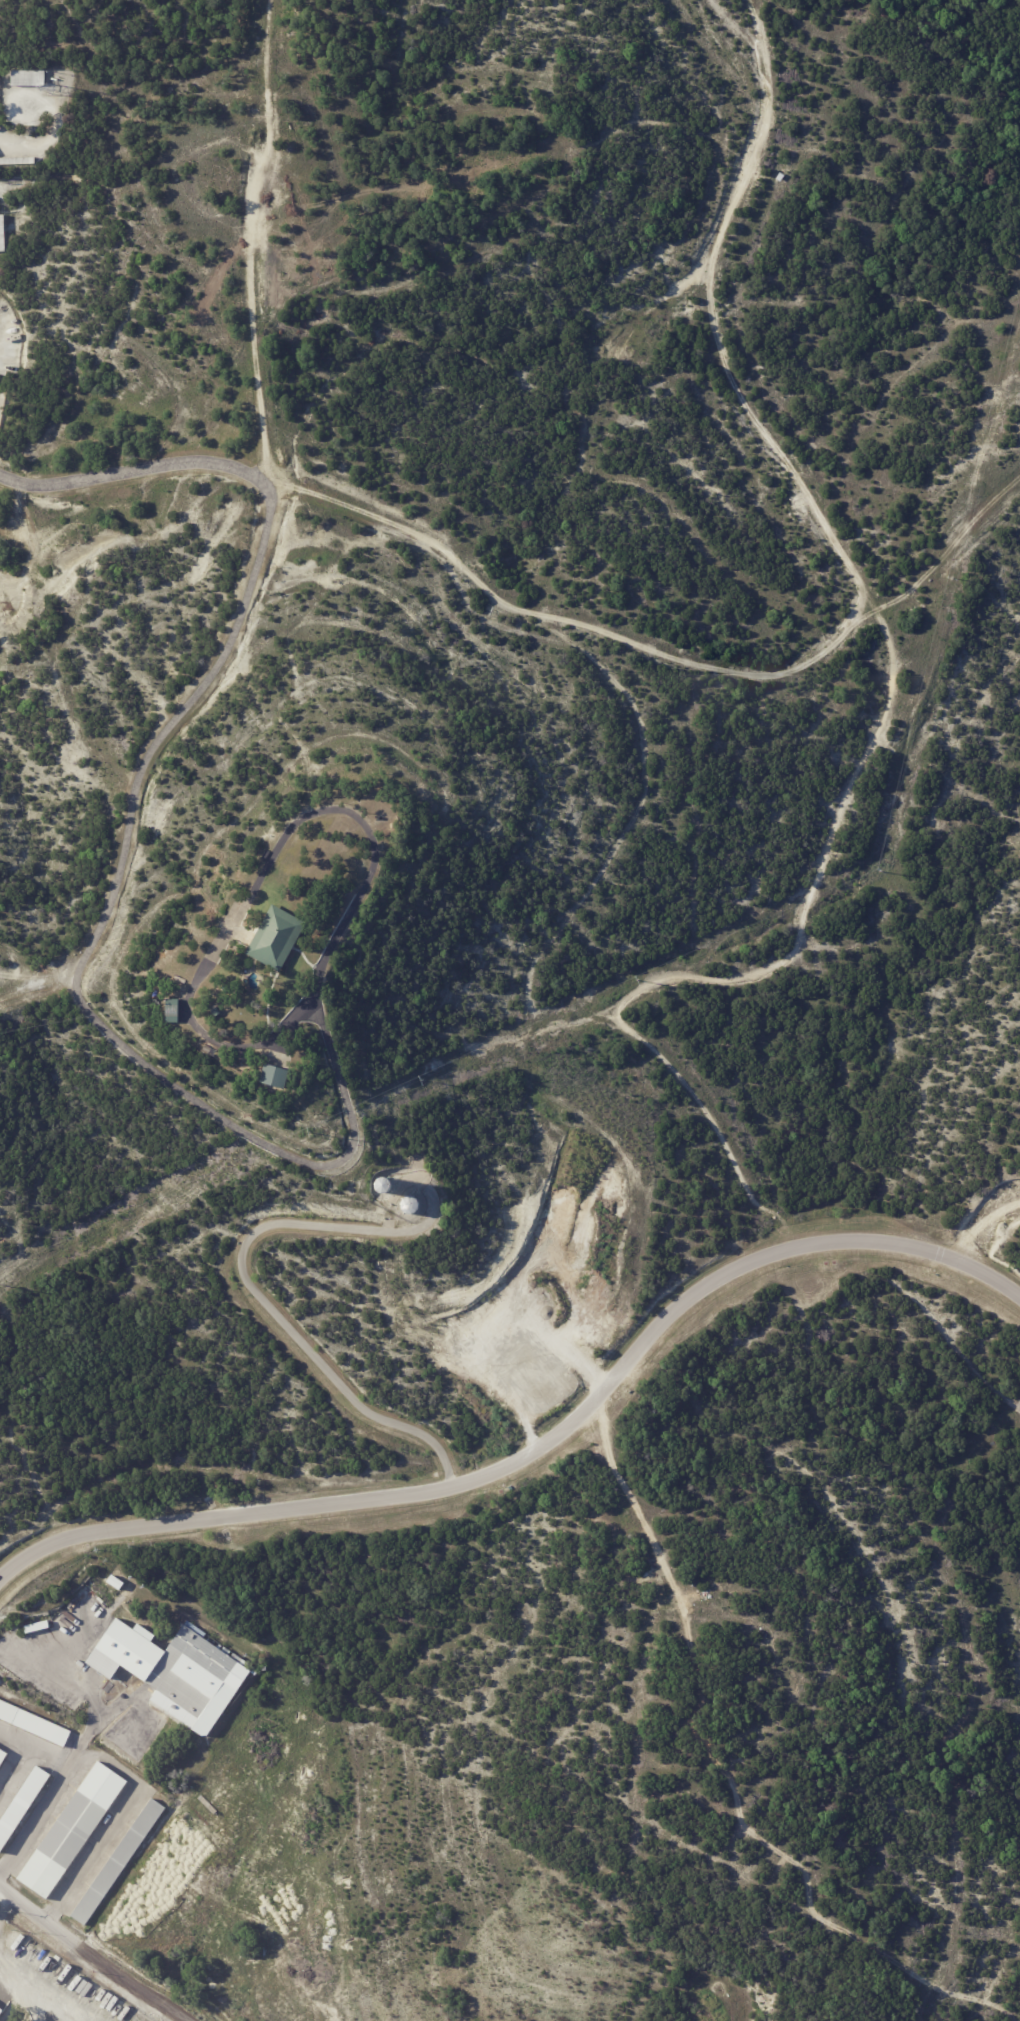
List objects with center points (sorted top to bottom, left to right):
building: (30, 79)
road: (56, 127)
building: (0, 129)
building: (18, 162)
building: (3, 235)
road: (710, 308)
road: (131, 474)
road: (358, 495)
road: (263, 540)
power tower: (951, 576)
road: (740, 647)
power tower: (877, 870)
road: (261, 871)
building: (279, 936)
power tower: (638, 978)
building: (175, 1009)
building: (218, 1011)
building: (208, 1048)
building: (277, 1075)
power tower: (422, 1079)
road: (237, 1129)
power tower: (310, 1131)
road: (984, 1224)
road: (255, 1286)
road: (541, 1446)
building: (512, 1487)
road: (634, 1489)
building: (625, 1532)
building: (122, 1583)
building: (182, 1671)
building: (34, 1724)
road: (82, 1742)
road: (34, 1749)
building: (3, 1758)
building: (23, 1807)
road: (119, 1821)
building: (74, 1831)
building: (119, 1861)
road: (96, 1951)

